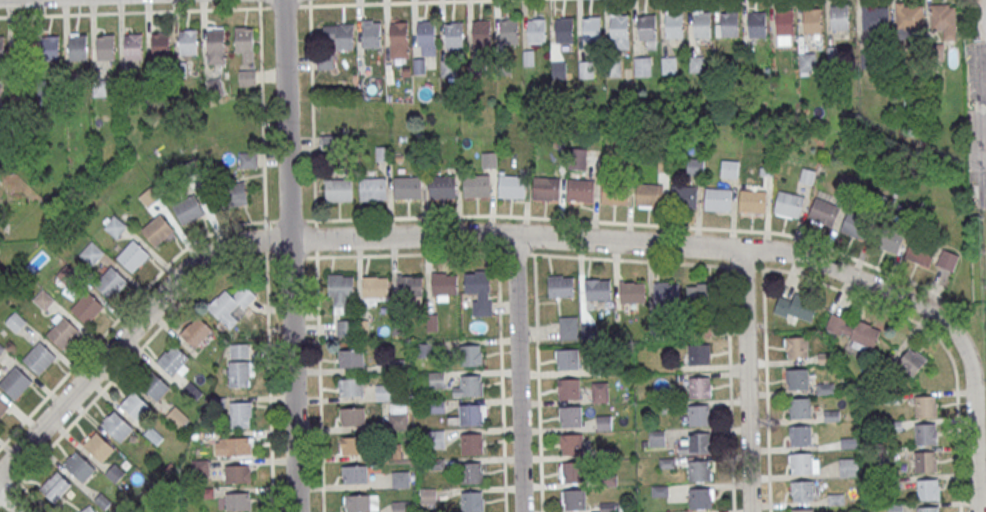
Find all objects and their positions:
road: (309, 2)
road: (371, 2)
road: (149, 11)
building: (910, 15)
building: (840, 16)
building: (875, 16)
power substation: (981, 18)
building: (944, 19)
building: (812, 20)
building: (785, 22)
building: (730, 23)
building: (674, 24)
building: (702, 24)
building: (757, 24)
building: (620, 27)
building: (647, 27)
building: (592, 28)
building: (536, 29)
building: (565, 29)
building: (510, 31)
building: (481, 32)
building: (371, 33)
building: (339, 34)
building: (454, 34)
building: (426, 36)
building: (188, 41)
building: (399, 41)
building: (245, 43)
building: (216, 44)
building: (160, 45)
building: (78, 46)
building: (133, 46)
building: (50, 47)
building: (105, 47)
building: (3, 48)
building: (809, 62)
building: (696, 63)
building: (668, 65)
building: (642, 66)
parking lot: (982, 72)
building: (247, 77)
building: (214, 84)
building: (100, 88)
road: (979, 145)
building: (247, 159)
building: (489, 159)
building: (577, 159)
building: (695, 166)
building: (730, 168)
building: (476, 185)
building: (442, 186)
building: (512, 186)
building: (407, 187)
building: (373, 188)
building: (546, 188)
building: (339, 189)
building: (580, 190)
building: (615, 192)
building: (234, 194)
building: (650, 194)
building: (684, 196)
building: (718, 199)
building: (753, 201)
building: (789, 204)
building: (188, 208)
building: (823, 212)
road: (428, 215)
building: (855, 225)
building: (114, 227)
building: (157, 229)
road: (442, 236)
building: (890, 240)
building: (91, 253)
building: (920, 253)
road: (291, 255)
road: (316, 255)
building: (133, 256)
building: (947, 260)
road: (745, 267)
building: (67, 275)
building: (111, 282)
building: (476, 282)
building: (444, 283)
building: (340, 285)
building: (375, 286)
building: (409, 286)
building: (560, 286)
building: (597, 289)
building: (632, 291)
building: (666, 291)
building: (701, 292)
building: (43, 300)
building: (231, 304)
building: (87, 307)
building: (795, 307)
building: (15, 322)
building: (839, 324)
building: (345, 327)
building: (568, 327)
road: (932, 330)
building: (195, 331)
building: (63, 332)
building: (864, 336)
building: (796, 346)
building: (1, 348)
building: (240, 350)
building: (424, 350)
building: (699, 353)
building: (470, 355)
building: (350, 357)
building: (39, 358)
building: (567, 359)
building: (174, 361)
building: (911, 361)
road: (268, 366)
road: (518, 373)
building: (241, 374)
building: (796, 378)
road: (747, 380)
road: (501, 381)
building: (15, 382)
road: (538, 383)
road: (319, 384)
building: (153, 385)
building: (471, 385)
building: (351, 387)
building: (699, 387)
building: (568, 388)
road: (730, 388)
road: (767, 390)
building: (192, 391)
building: (385, 392)
building: (599, 392)
building: (135, 405)
building: (925, 405)
building: (436, 406)
building: (3, 407)
building: (798, 407)
building: (241, 414)
building: (471, 414)
building: (699, 414)
building: (398, 415)
building: (352, 416)
building: (569, 416)
building: (177, 417)
road: (973, 424)
building: (116, 425)
building: (926, 433)
building: (799, 435)
building: (436, 439)
building: (471, 443)
building: (351, 444)
building: (571, 444)
building: (696, 444)
building: (234, 445)
building: (98, 446)
building: (926, 462)
building: (801, 463)
building: (79, 466)
building: (200, 467)
building: (848, 467)
building: (699, 471)
building: (471, 472)
building: (572, 472)
building: (115, 473)
building: (237, 473)
building: (355, 474)
building: (400, 478)
building: (55, 486)
building: (928, 489)
building: (802, 490)
road: (34, 495)
building: (428, 496)
building: (700, 498)
building: (573, 499)
building: (238, 500)
building: (472, 501)
building: (361, 502)
road: (9, 503)
building: (400, 506)
building: (88, 509)
building: (928, 509)
building: (803, 510)

